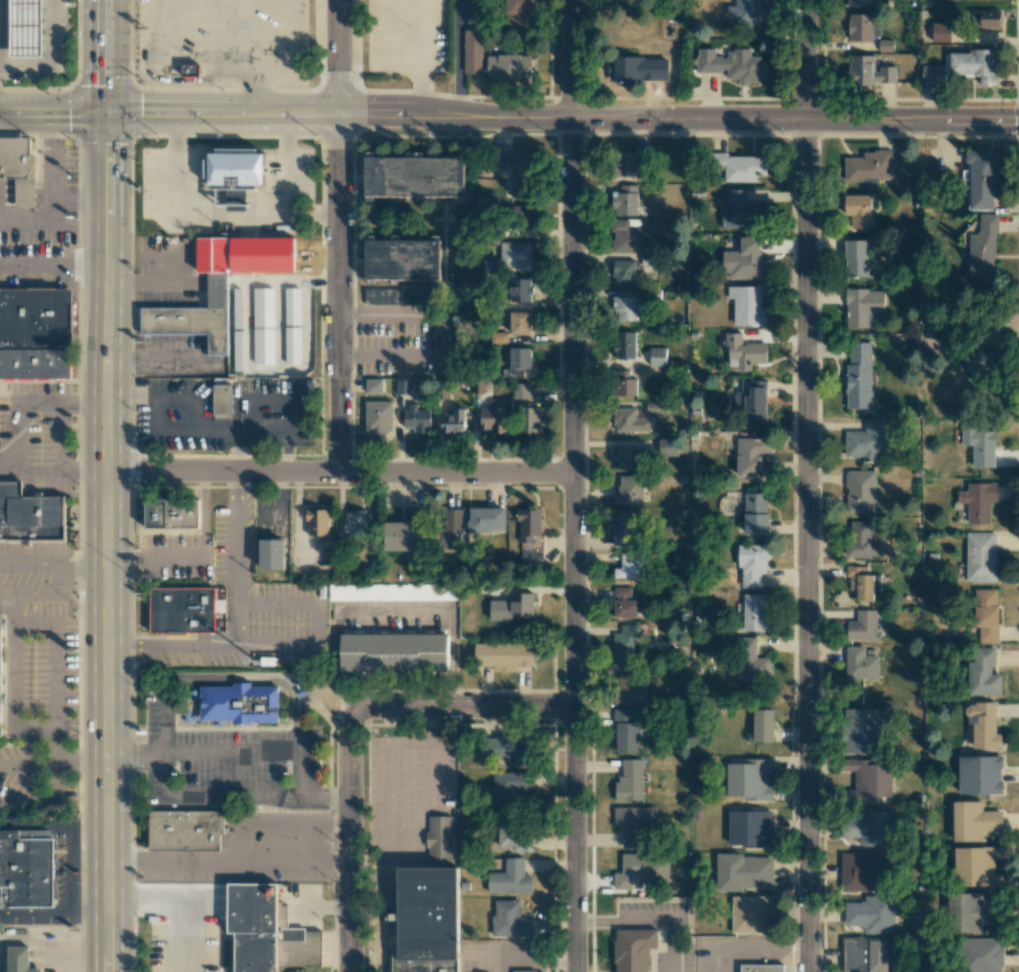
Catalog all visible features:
building: (625, 1)
building: (857, 3)
building: (745, 11)
building: (517, 12)
building: (985, 18)
road: (157, 24)
building: (860, 26)
building: (21, 30)
road: (203, 30)
road: (243, 31)
building: (941, 32)
parking lot: (406, 37)
building: (885, 45)
road: (284, 50)
building: (473, 52)
road: (51, 57)
road: (199, 59)
building: (731, 64)
building: (972, 65)
building: (509, 66)
road: (404, 67)
building: (190, 69)
building: (635, 70)
building: (868, 71)
building: (932, 74)
road: (185, 80)
road: (254, 89)
road: (423, 93)
traffic signals: (105, 119)
road: (224, 119)
road: (733, 120)
building: (628, 164)
building: (869, 166)
road: (288, 167)
building: (738, 167)
building: (239, 168)
building: (18, 171)
road: (52, 171)
building: (517, 172)
building: (414, 176)
building: (981, 178)
building: (625, 201)
building: (858, 210)
building: (743, 211)
road: (206, 215)
building: (520, 215)
road: (52, 224)
building: (625, 235)
road: (335, 237)
building: (983, 250)
building: (515, 253)
building: (856, 258)
building: (402, 260)
building: (744, 261)
building: (491, 266)
road: (53, 267)
building: (624, 272)
road: (320, 281)
building: (518, 289)
building: (398, 296)
building: (747, 305)
building: (292, 306)
building: (863, 306)
building: (263, 307)
building: (624, 308)
building: (36, 318)
building: (520, 322)
building: (188, 323)
road: (280, 325)
road: (447, 334)
building: (499, 338)
parking lot: (403, 340)
building: (292, 345)
building: (624, 345)
building: (263, 346)
building: (744, 352)
building: (657, 356)
building: (517, 362)
building: (34, 364)
building: (929, 364)
building: (978, 364)
road: (248, 368)
building: (858, 375)
building: (624, 384)
building: (374, 386)
building: (403, 386)
building: (521, 391)
building: (221, 399)
building: (754, 401)
road: (83, 402)
building: (378, 416)
building: (493, 417)
building: (417, 418)
building: (529, 420)
building: (452, 421)
building: (630, 421)
road: (211, 432)
road: (60, 436)
road: (16, 437)
building: (866, 442)
building: (979, 445)
building: (667, 447)
building: (750, 456)
building: (628, 458)
road: (8, 470)
road: (84, 471)
road: (339, 474)
road: (235, 484)
road: (107, 485)
road: (806, 485)
road: (572, 486)
building: (629, 490)
building: (861, 492)
road: (283, 493)
building: (978, 502)
road: (270, 513)
building: (755, 513)
building: (172, 514)
road: (203, 514)
building: (32, 516)
building: (486, 519)
road: (298, 520)
building: (317, 522)
building: (355, 522)
building: (529, 524)
building: (622, 528)
building: (450, 529)
building: (401, 536)
building: (860, 540)
building: (49, 550)
building: (273, 555)
building: (531, 556)
building: (980, 556)
road: (155, 557)
building: (751, 564)
road: (27, 566)
building: (630, 566)
road: (67, 567)
building: (862, 583)
building: (392, 591)
road: (23, 593)
building: (624, 603)
building: (511, 607)
building: (182, 609)
road: (393, 611)
building: (754, 613)
building: (986, 615)
road: (237, 616)
road: (315, 624)
building: (861, 626)
road: (126, 645)
building: (624, 646)
road: (54, 653)
building: (504, 655)
building: (390, 659)
road: (454, 659)
building: (751, 662)
building: (860, 664)
building: (982, 673)
road: (256, 679)
building: (2, 680)
building: (627, 689)
road: (11, 695)
building: (234, 704)
road: (463, 706)
road: (164, 724)
building: (763, 725)
building: (982, 725)
building: (862, 730)
building: (626, 731)
building: (506, 747)
road: (254, 753)
road: (136, 754)
road: (81, 755)
road: (27, 765)
building: (979, 775)
road: (55, 778)
building: (750, 779)
building: (868, 780)
building: (629, 781)
building: (509, 787)
road: (210, 797)
road: (324, 798)
road: (27, 801)
building: (973, 821)
building: (634, 823)
road: (54, 824)
building: (750, 827)
building: (868, 827)
building: (185, 828)
building: (514, 835)
road: (350, 838)
building: (439, 842)
building: (976, 866)
road: (72, 868)
building: (642, 869)
building: (27, 870)
building: (743, 871)
building: (861, 872)
building: (510, 878)
road: (90, 912)
building: (969, 912)
road: (36, 913)
building: (751, 914)
building: (871, 914)
building: (509, 919)
building: (430, 921)
building: (270, 933)
building: (633, 949)
building: (864, 954)
building: (983, 955)
building: (19, 959)
building: (761, 968)
building: (523, 971)

